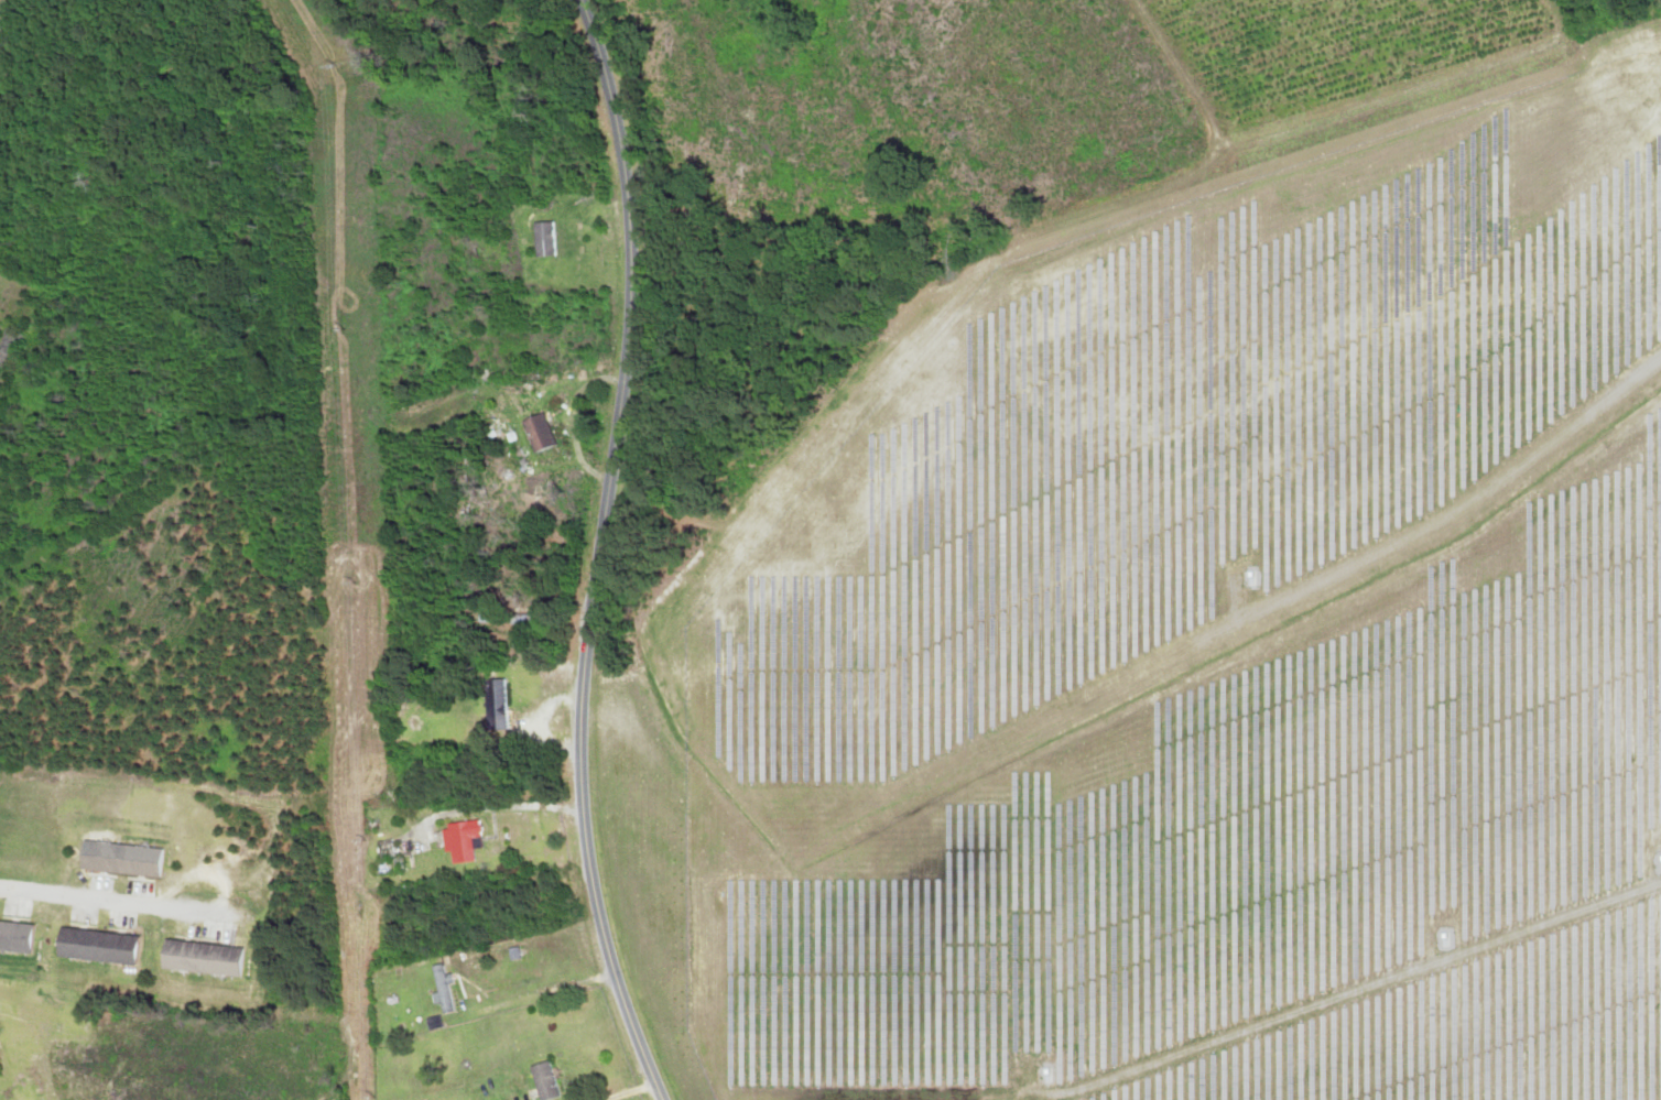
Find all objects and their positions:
building: (544, 239)
building: (539, 432)
road: (599, 552)
building: (503, 619)
building: (495, 705)
building: (460, 841)
building: (120, 858)
road: (91, 896)
building: (14, 936)
building: (95, 945)
building: (200, 957)
building: (441, 987)
building: (541, 1080)

